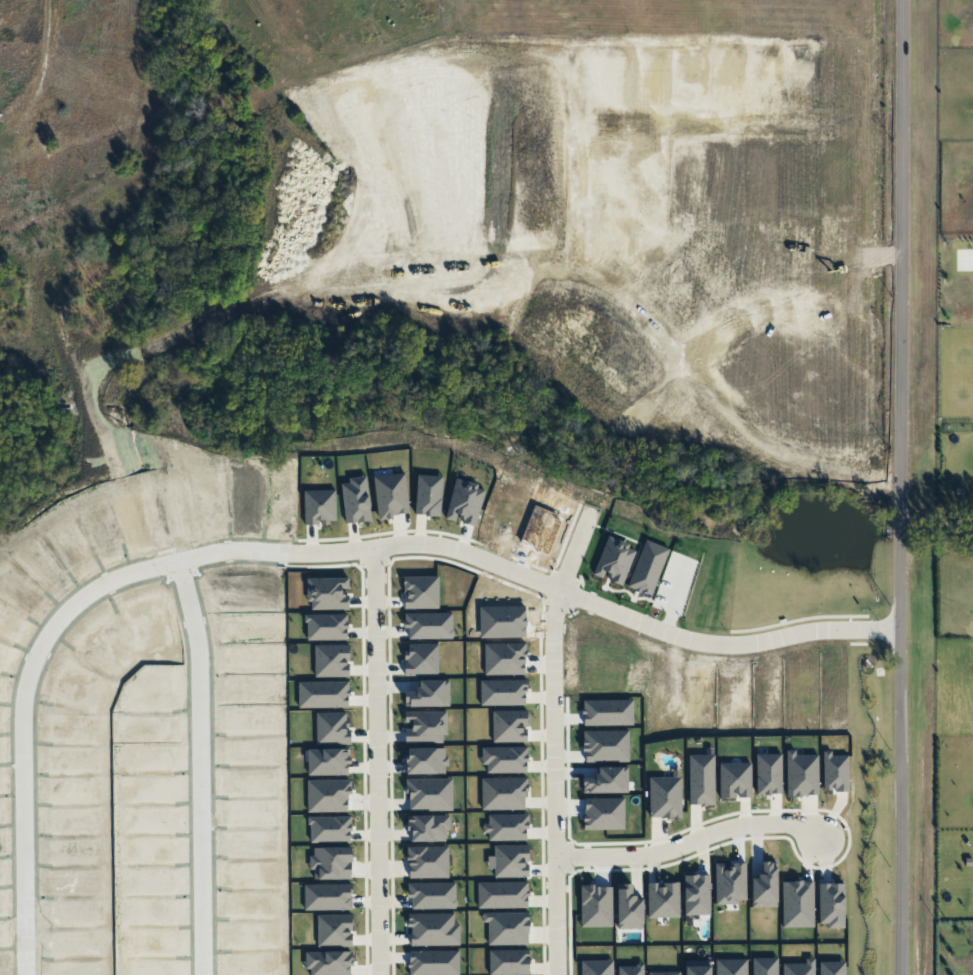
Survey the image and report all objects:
road: (835, 62)
road: (765, 122)
road: (507, 127)
building: (42, 168)
road: (233, 202)
road: (129, 230)
road: (570, 323)
road: (900, 487)
road: (602, 606)
road: (35, 660)
building: (803, 710)
road: (555, 744)
road: (378, 761)
road: (202, 766)
building: (845, 810)
road: (690, 843)

